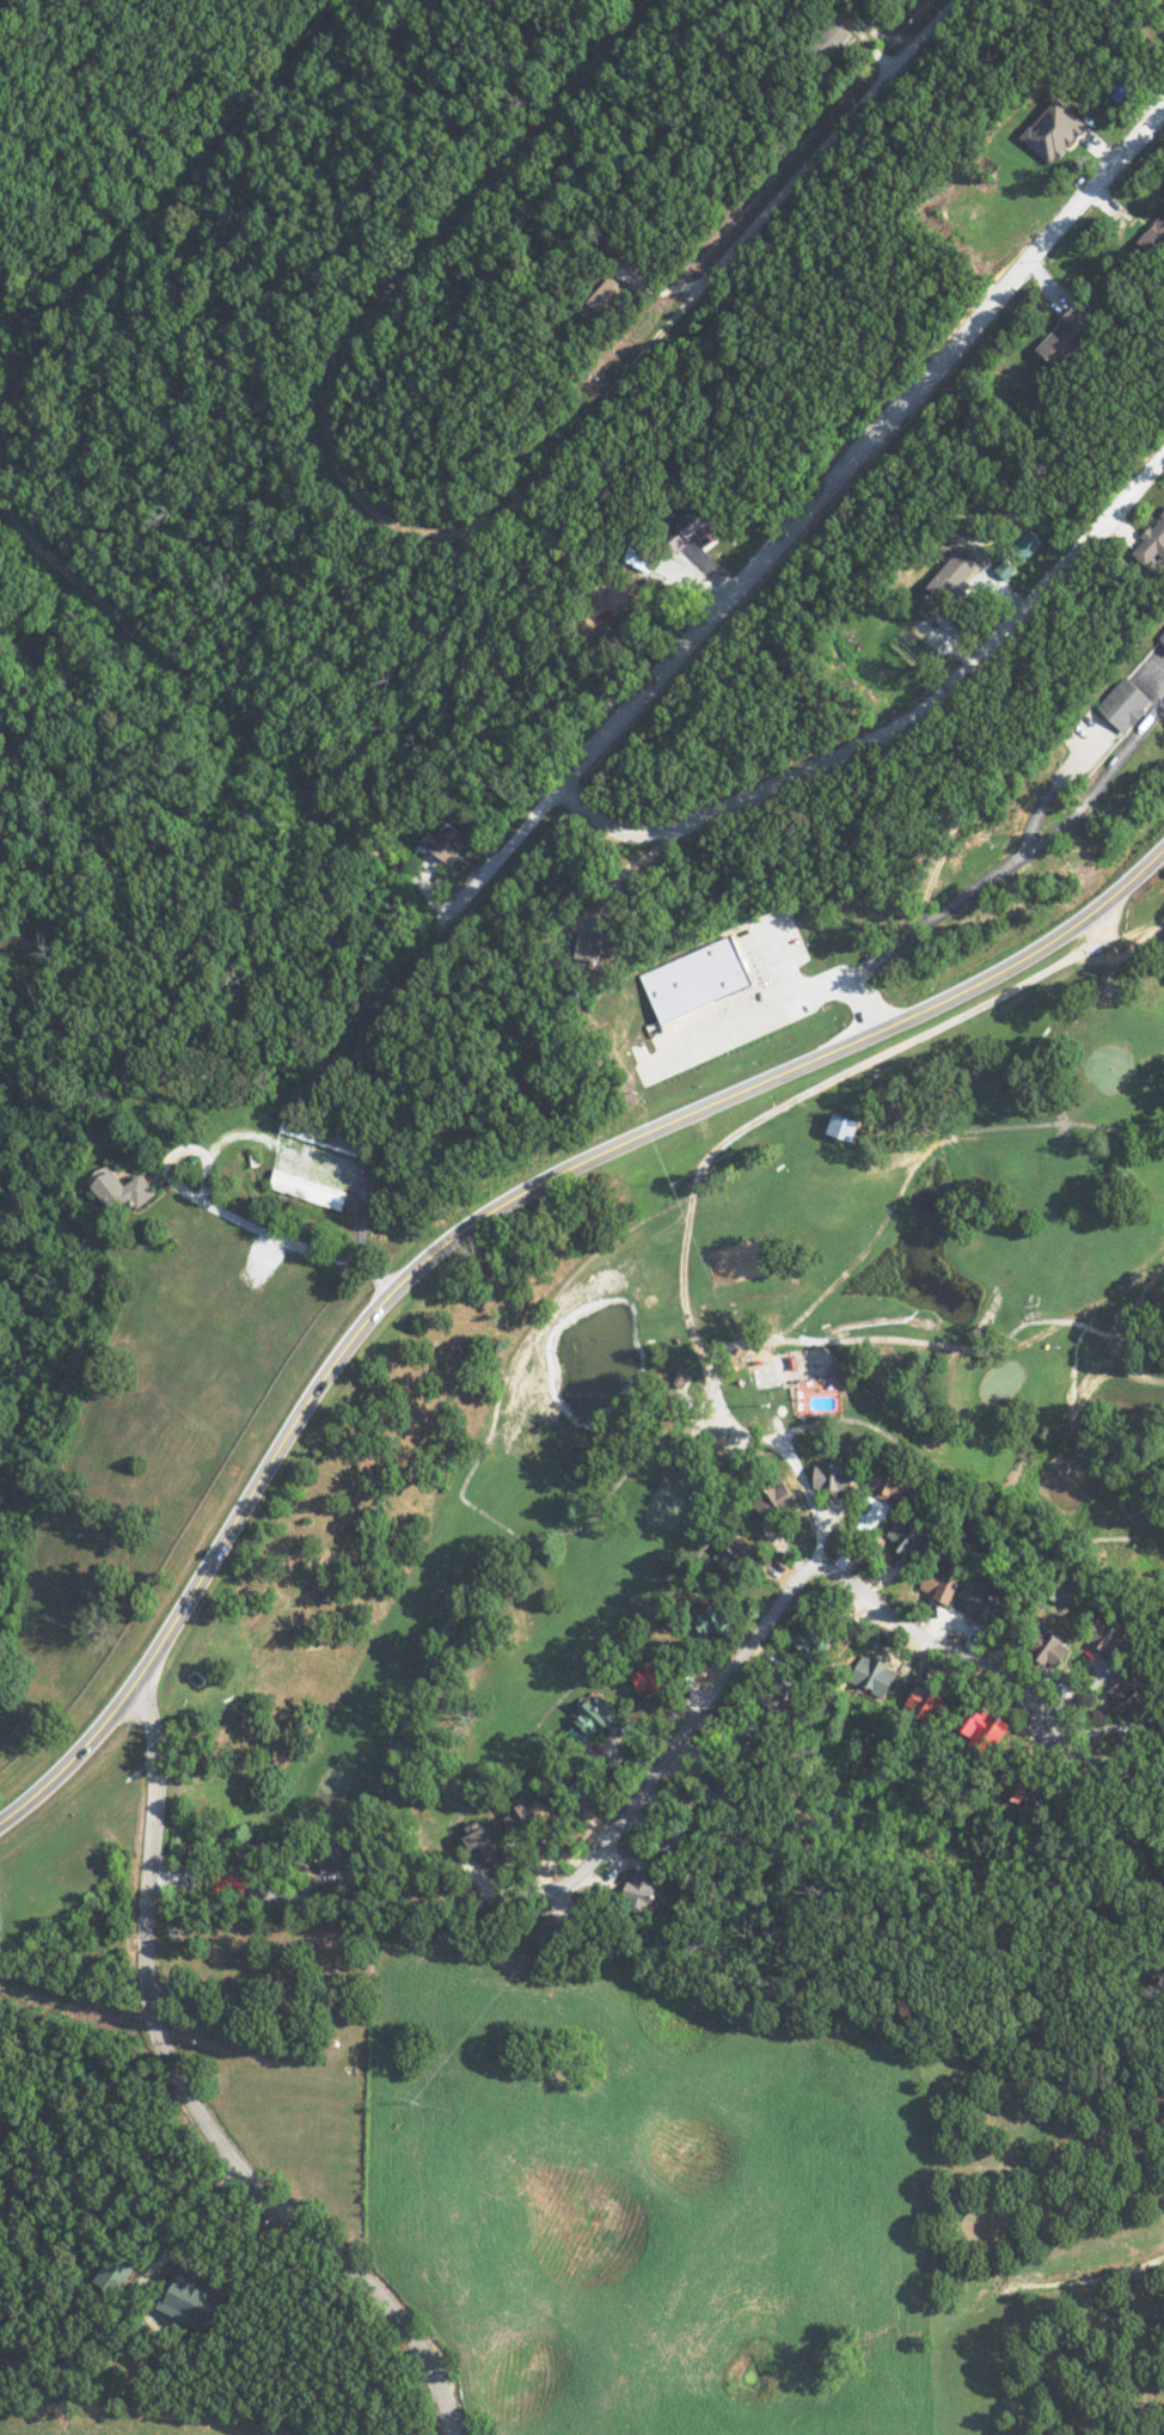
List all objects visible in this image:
building: (837, 39)
building: (1058, 130)
road: (154, 210)
building: (1154, 238)
building: (608, 295)
building: (1068, 337)
road: (14, 360)
building: (699, 521)
road: (460, 533)
building: (1152, 544)
building: (1028, 545)
building: (1006, 568)
building: (955, 574)
building: (1162, 636)
building: (1128, 704)
road: (901, 723)
road: (592, 753)
building: (449, 840)
building: (594, 936)
building: (698, 980)
building: (846, 1127)
building: (323, 1134)
building: (307, 1189)
building: (124, 1191)
road: (480, 1213)
road: (227, 1224)
building: (835, 1476)
building: (893, 1480)
building: (779, 1499)
building: (911, 1536)
building: (736, 1553)
building: (943, 1583)
building: (990, 1605)
building: (721, 1617)
building: (816, 1636)
building: (1110, 1636)
building: (1056, 1652)
building: (656, 1675)
building: (875, 1675)
building: (1129, 1697)
building: (927, 1702)
building: (595, 1714)
building: (990, 1731)
road: (651, 1770)
building: (1031, 1792)
building: (525, 1817)
building: (484, 1847)
building: (234, 1884)
building: (642, 1889)
road: (186, 2097)
building: (114, 2274)
building: (195, 2302)

